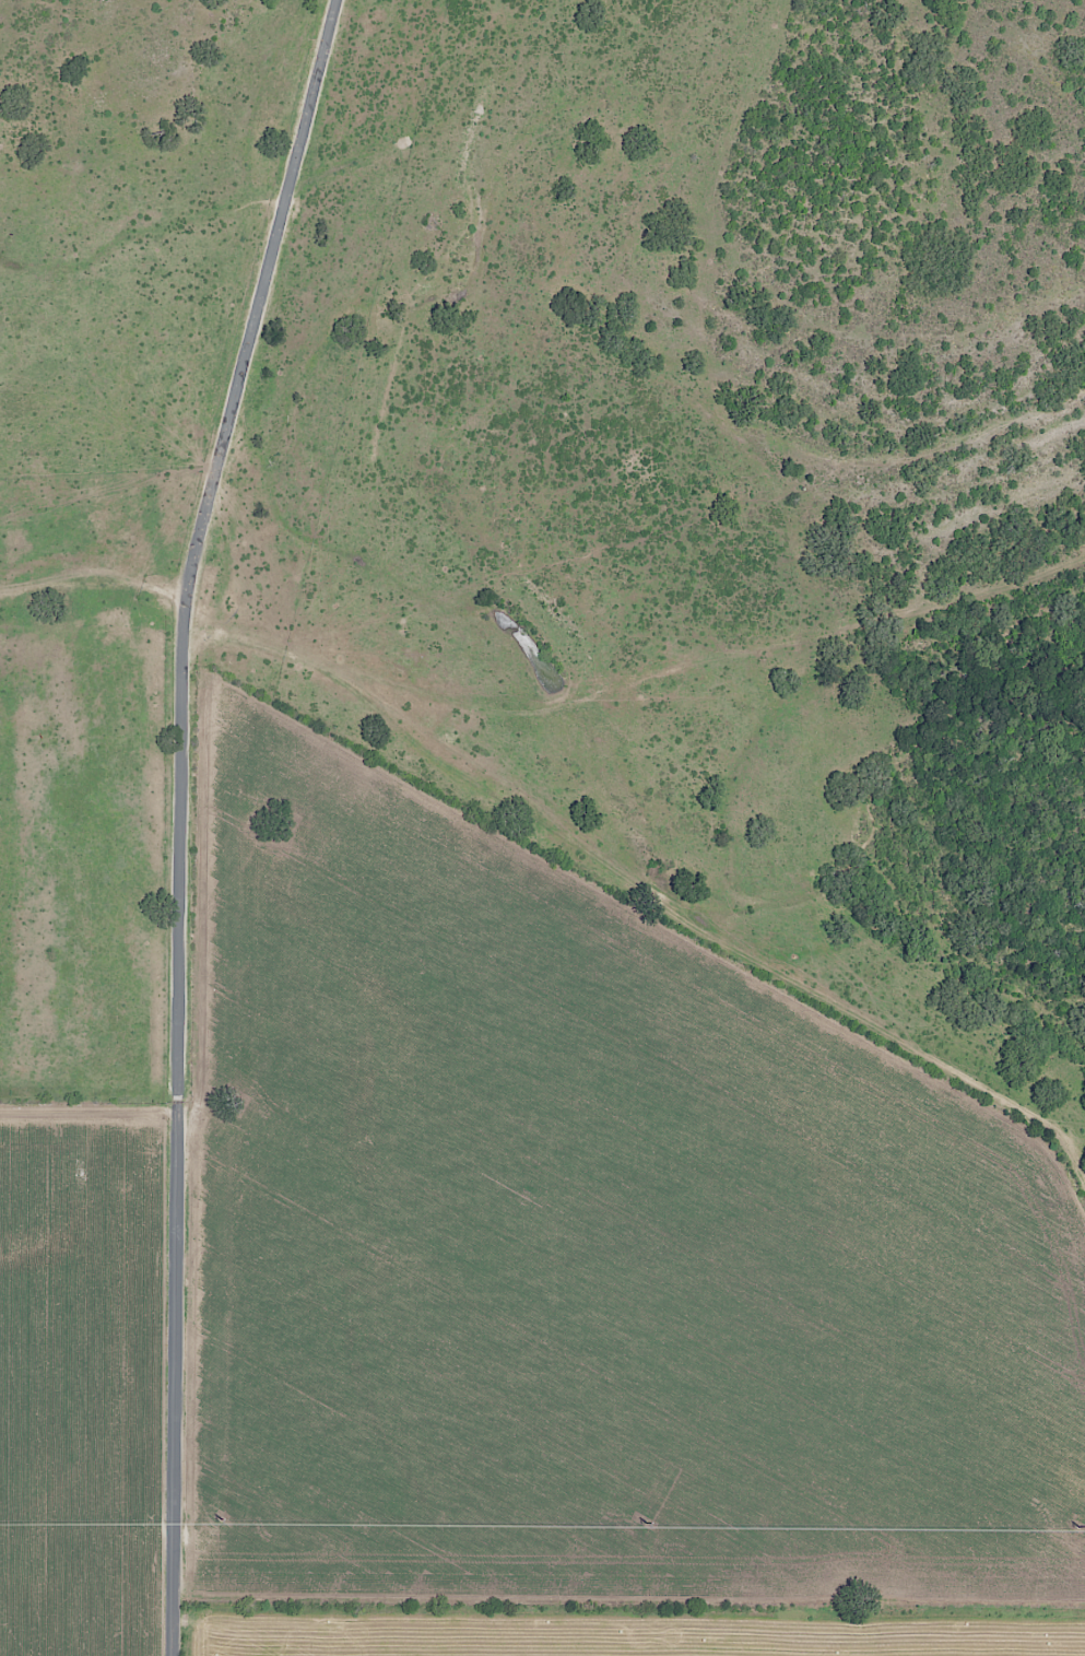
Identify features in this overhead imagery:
road: (551, 714)
road: (182, 819)
power tower: (221, 1518)
power tower: (650, 1520)
power tower: (1081, 1524)

